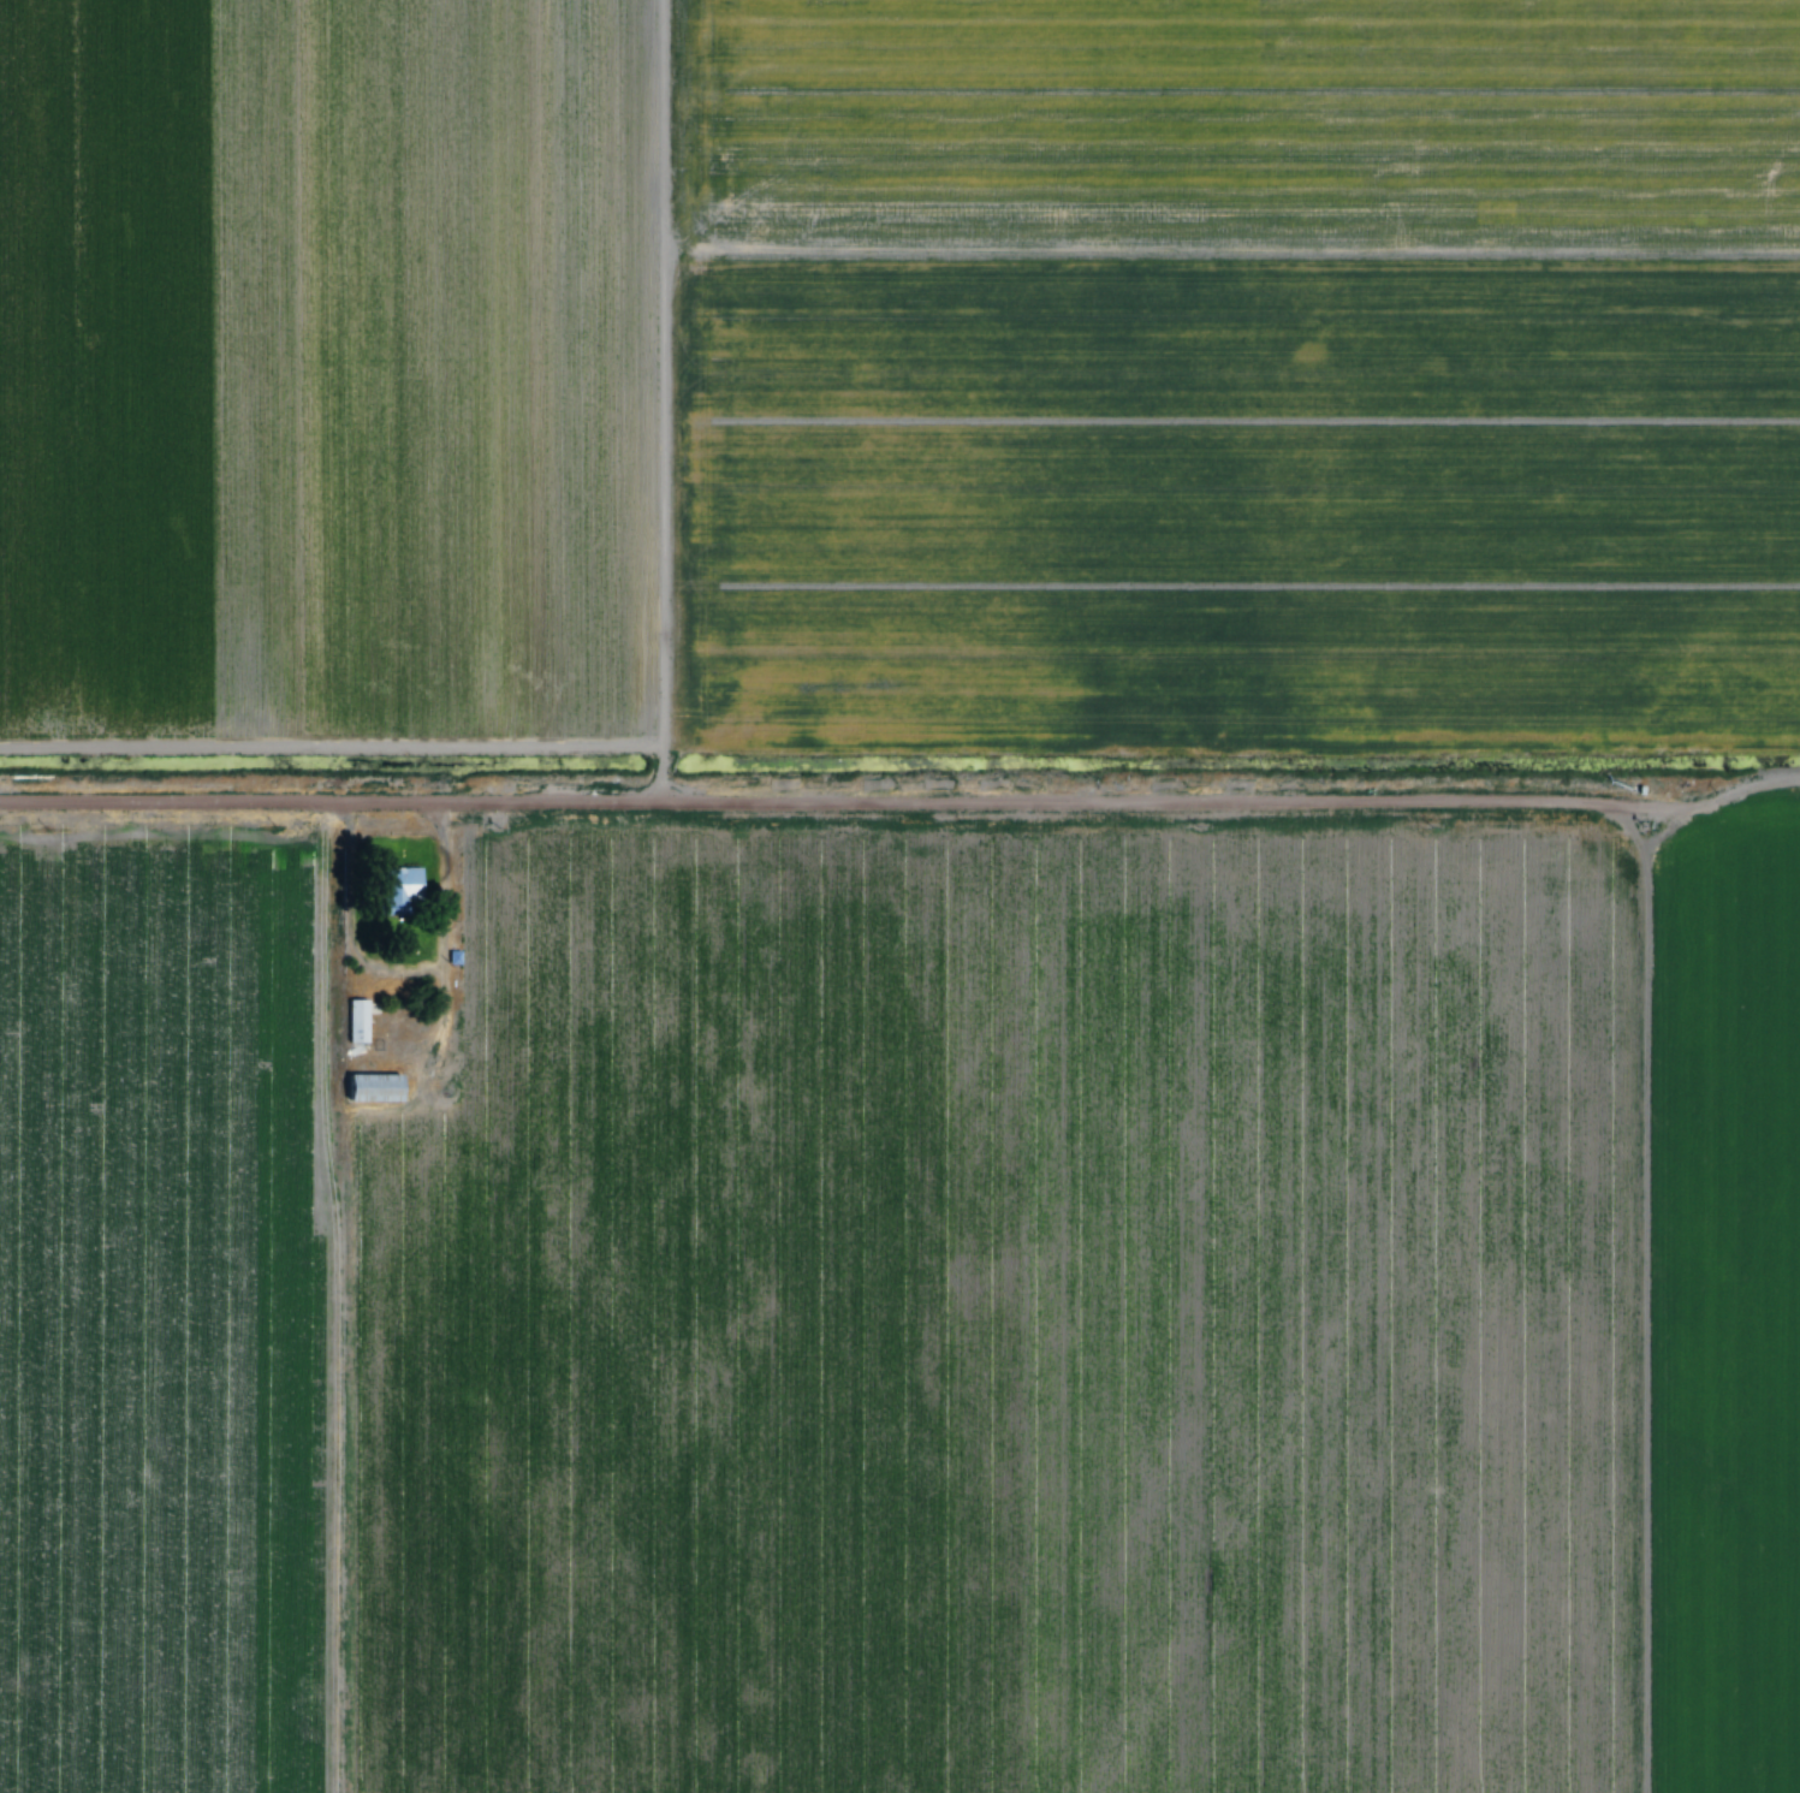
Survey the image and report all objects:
crop: (335, 366)
crop: (1236, 373)
road: (334, 794)
building: (404, 891)
building: (456, 956)
building: (360, 1021)
building: (375, 1087)
crop: (1728, 1301)
crop: (160, 1302)
crop: (1015, 1313)

